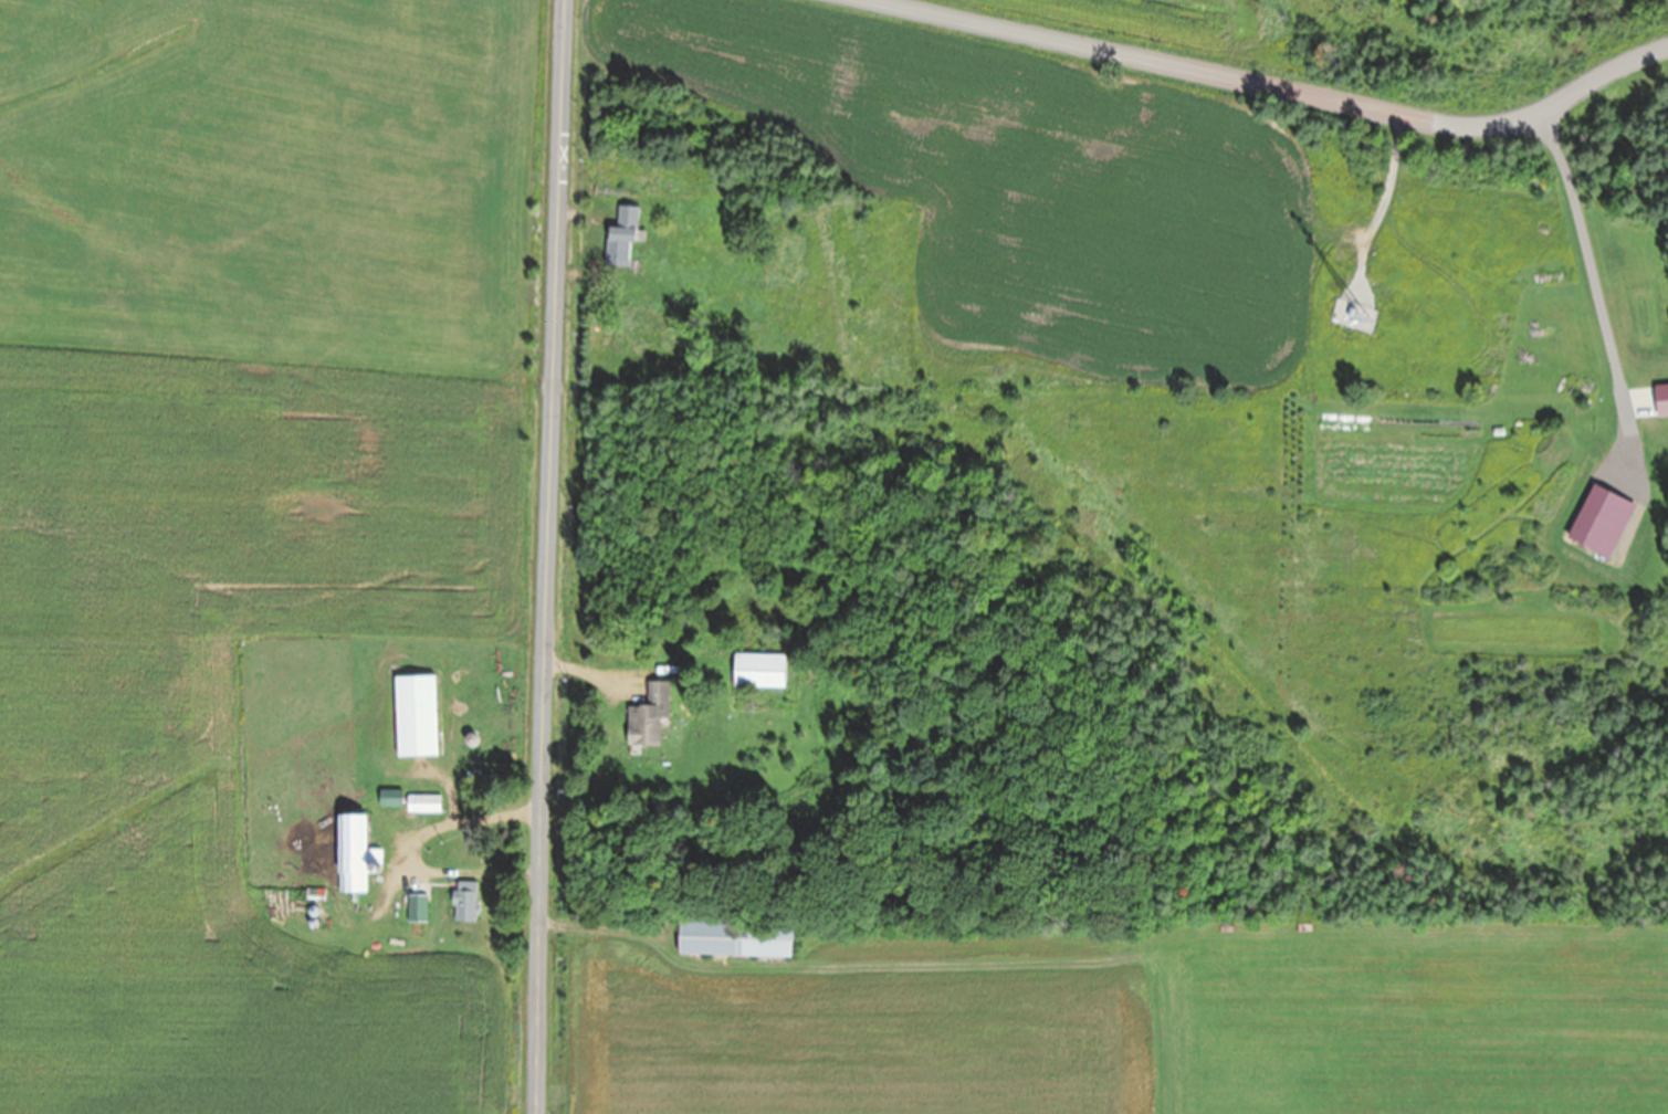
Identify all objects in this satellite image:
park: (1566, 44)
road: (1279, 87)
building: (620, 235)
building: (1649, 401)
building: (1598, 522)
road: (547, 556)
building: (756, 670)
building: (648, 714)
building: (412, 715)
building: (388, 798)
building: (421, 803)
building: (352, 854)
building: (463, 901)
building: (416, 908)
building: (731, 937)

